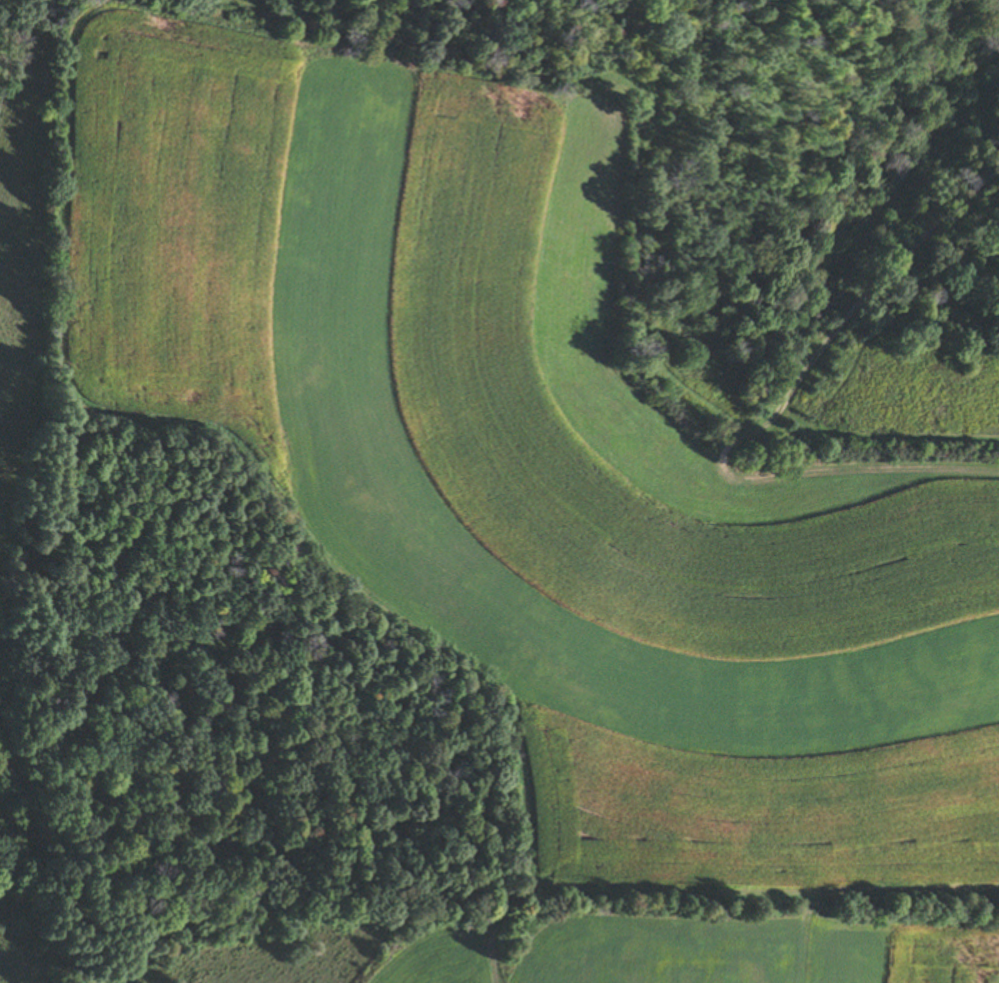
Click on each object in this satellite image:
crop: (525, 464)
crop: (436, 957)

